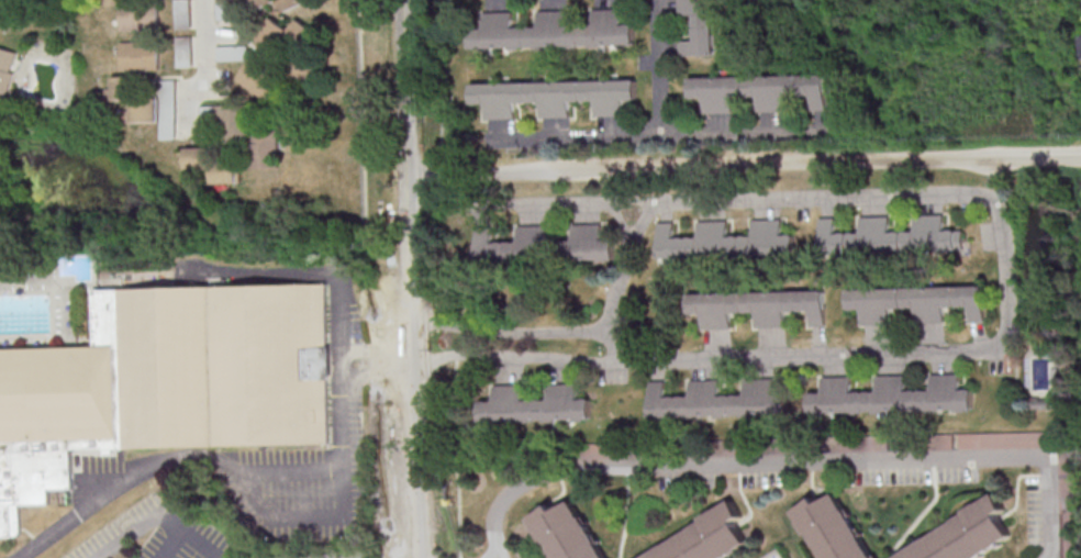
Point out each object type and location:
building: (260, 2)
building: (292, 3)
building: (223, 9)
building: (126, 12)
building: (180, 13)
building: (700, 27)
building: (549, 30)
building: (281, 35)
building: (1079, 43)
building: (181, 51)
building: (230, 52)
building: (137, 55)
road: (662, 68)
building: (5, 69)
road: (201, 69)
building: (257, 78)
building: (759, 90)
building: (554, 96)
building: (134, 98)
building: (166, 109)
building: (242, 132)
road: (660, 136)
road: (744, 163)
building: (213, 164)
building: (892, 236)
building: (726, 242)
building: (589, 244)
building: (510, 246)
road: (267, 272)
road: (618, 274)
road: (409, 279)
building: (916, 302)
building: (756, 305)
road: (1008, 313)
road: (379, 354)
road: (379, 373)
building: (166, 382)
building: (891, 395)
building: (718, 399)
building: (534, 405)
building: (1005, 440)
building: (923, 442)
building: (821, 445)
building: (720, 448)
building: (667, 449)
building: (601, 451)
road: (795, 461)
road: (257, 471)
building: (1069, 504)
road: (152, 513)
building: (833, 529)
building: (565, 531)
parking lot: (161, 534)
building: (704, 535)
building: (972, 536)
road: (202, 543)
parking lot: (326, 555)

